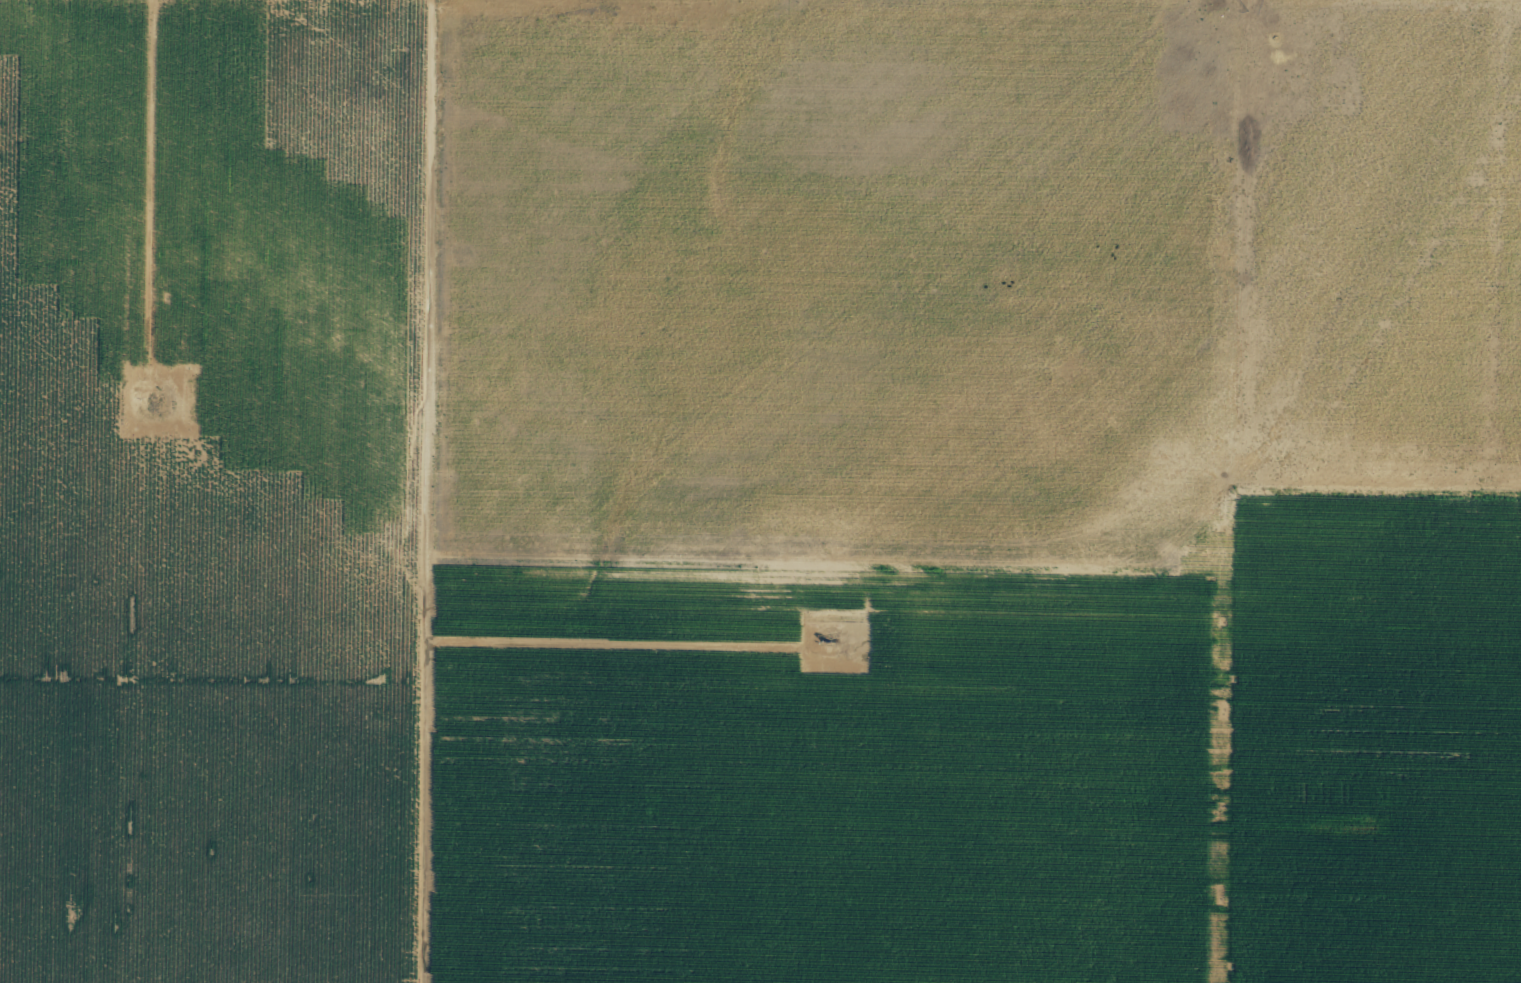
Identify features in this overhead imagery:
road: (427, 491)
petroleum well: (832, 642)

